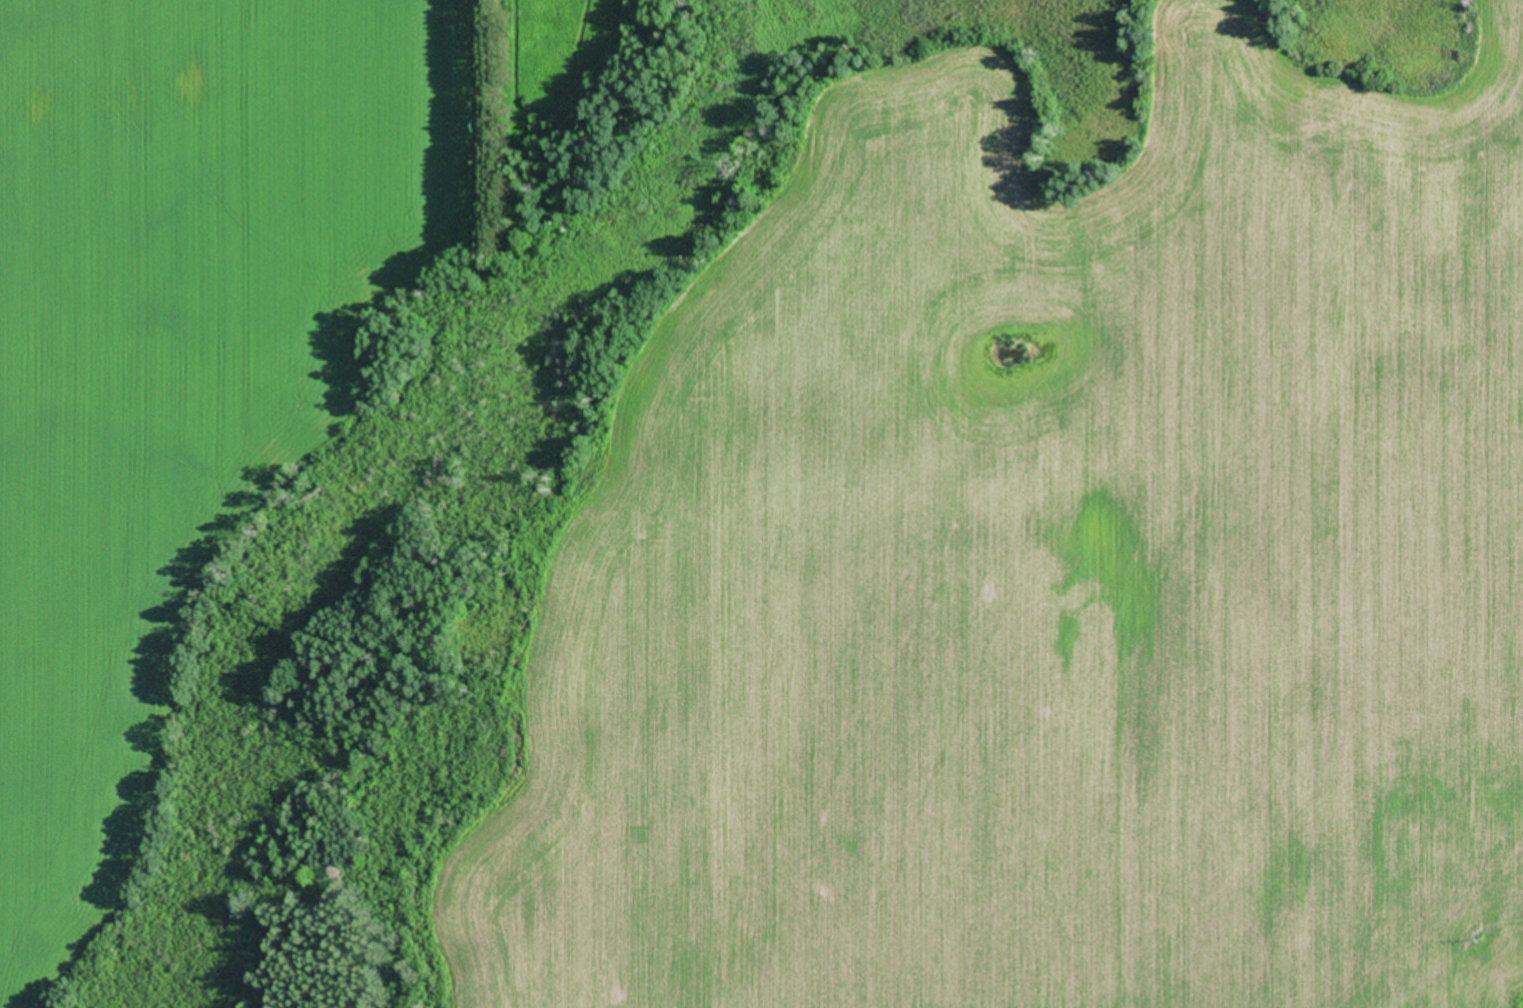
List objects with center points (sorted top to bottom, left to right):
crop: (177, 356)
building: (1428, 957)

